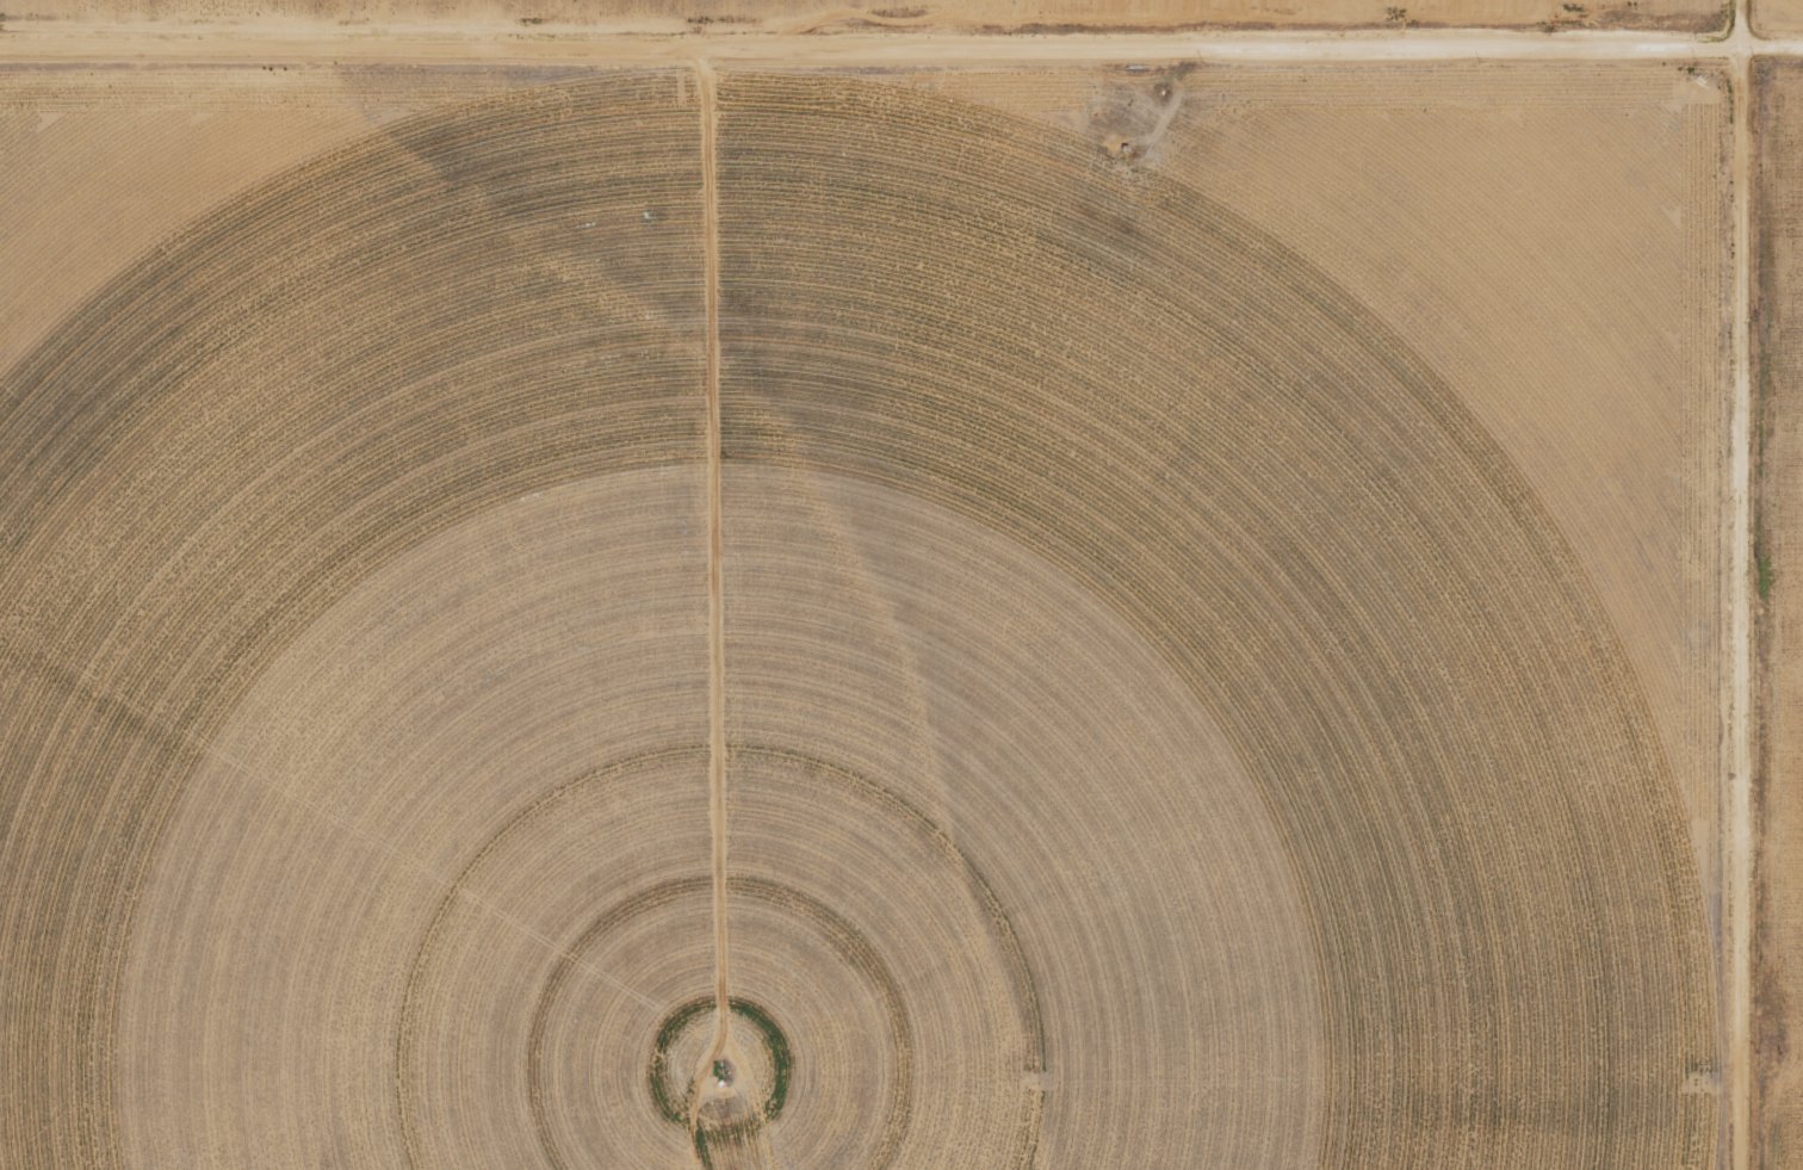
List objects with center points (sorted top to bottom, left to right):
road: (901, 48)
road: (1743, 584)

